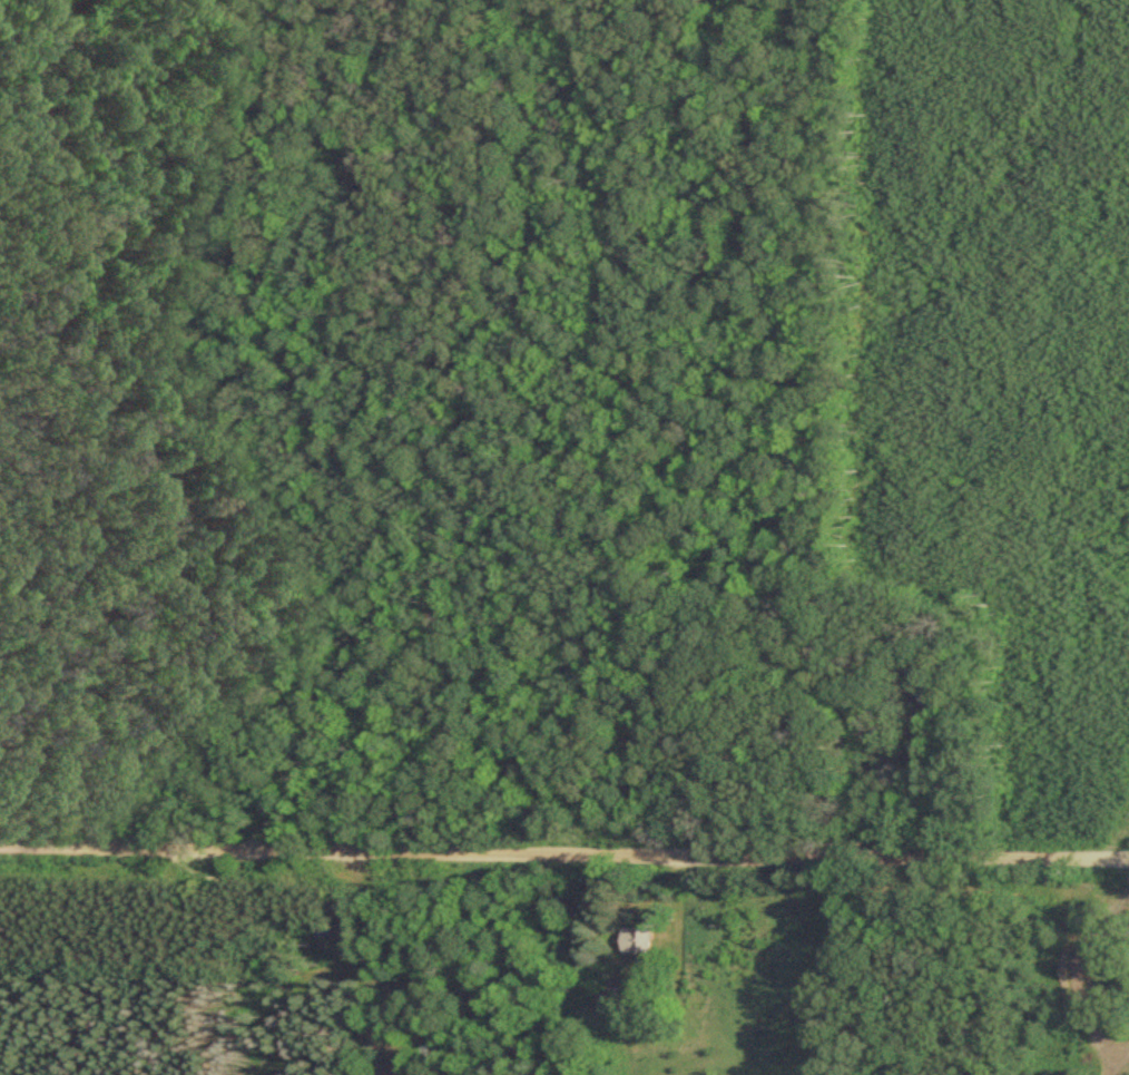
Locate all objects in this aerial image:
road: (564, 847)
building: (631, 945)
building: (602, 995)

